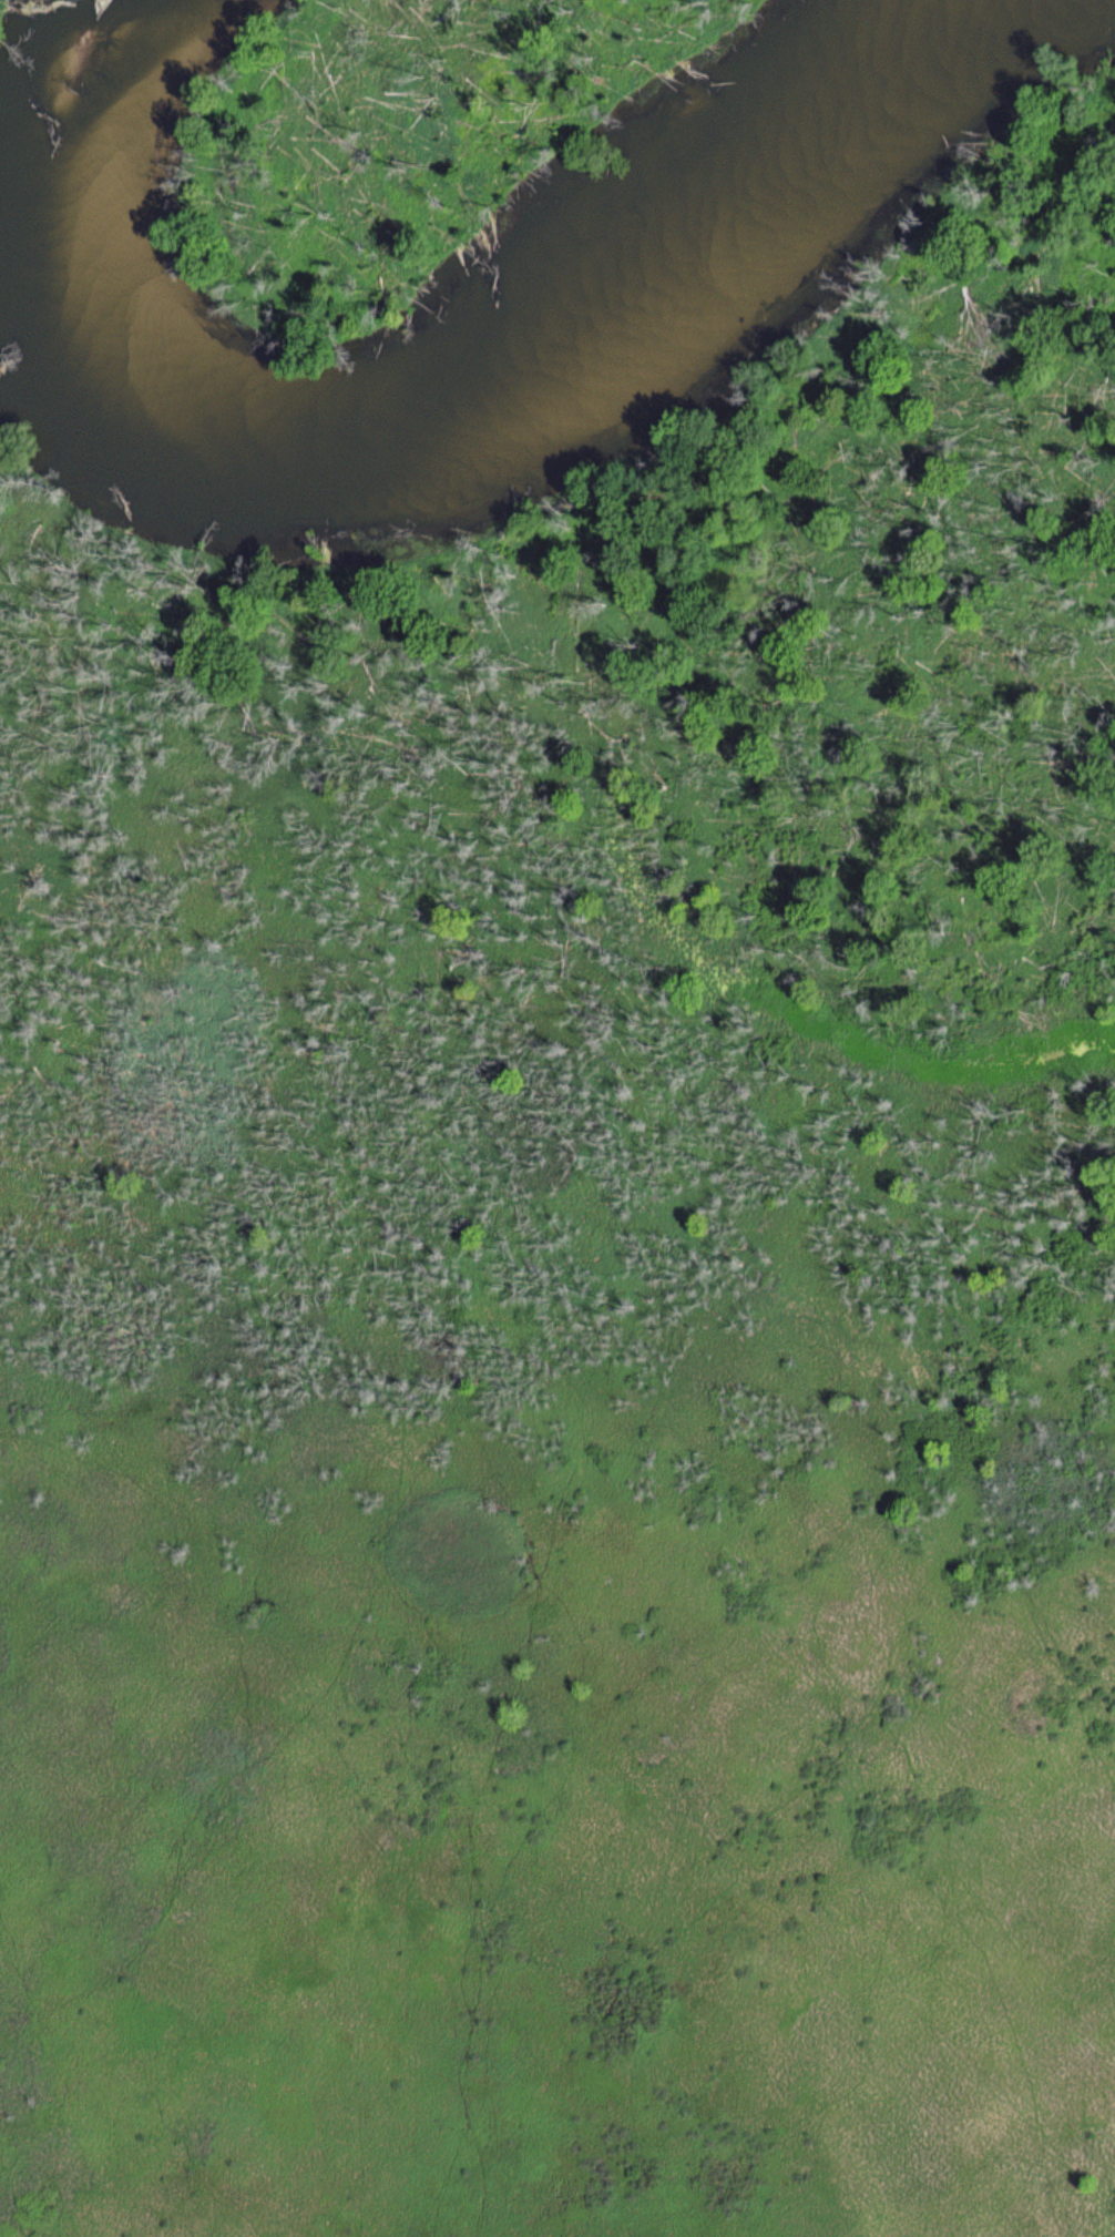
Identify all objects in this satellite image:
river: (430, 428)

